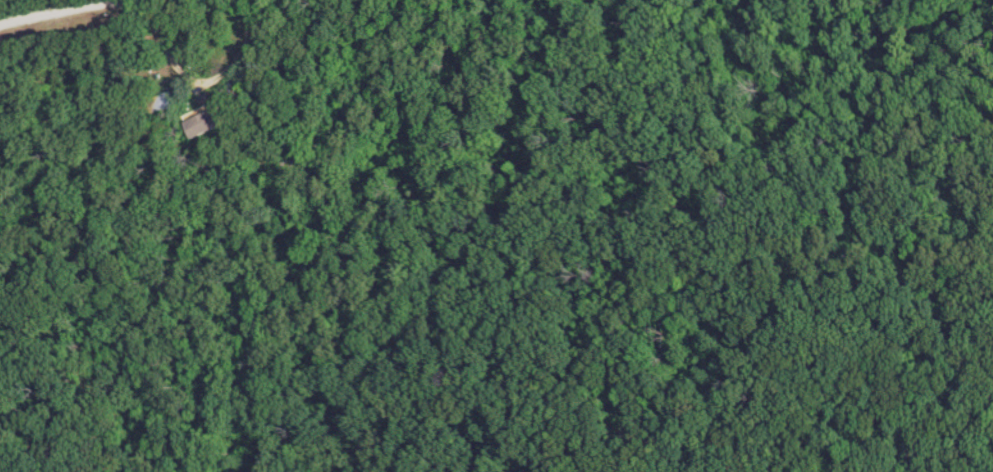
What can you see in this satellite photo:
road: (51, 10)
building: (165, 102)
building: (208, 123)

